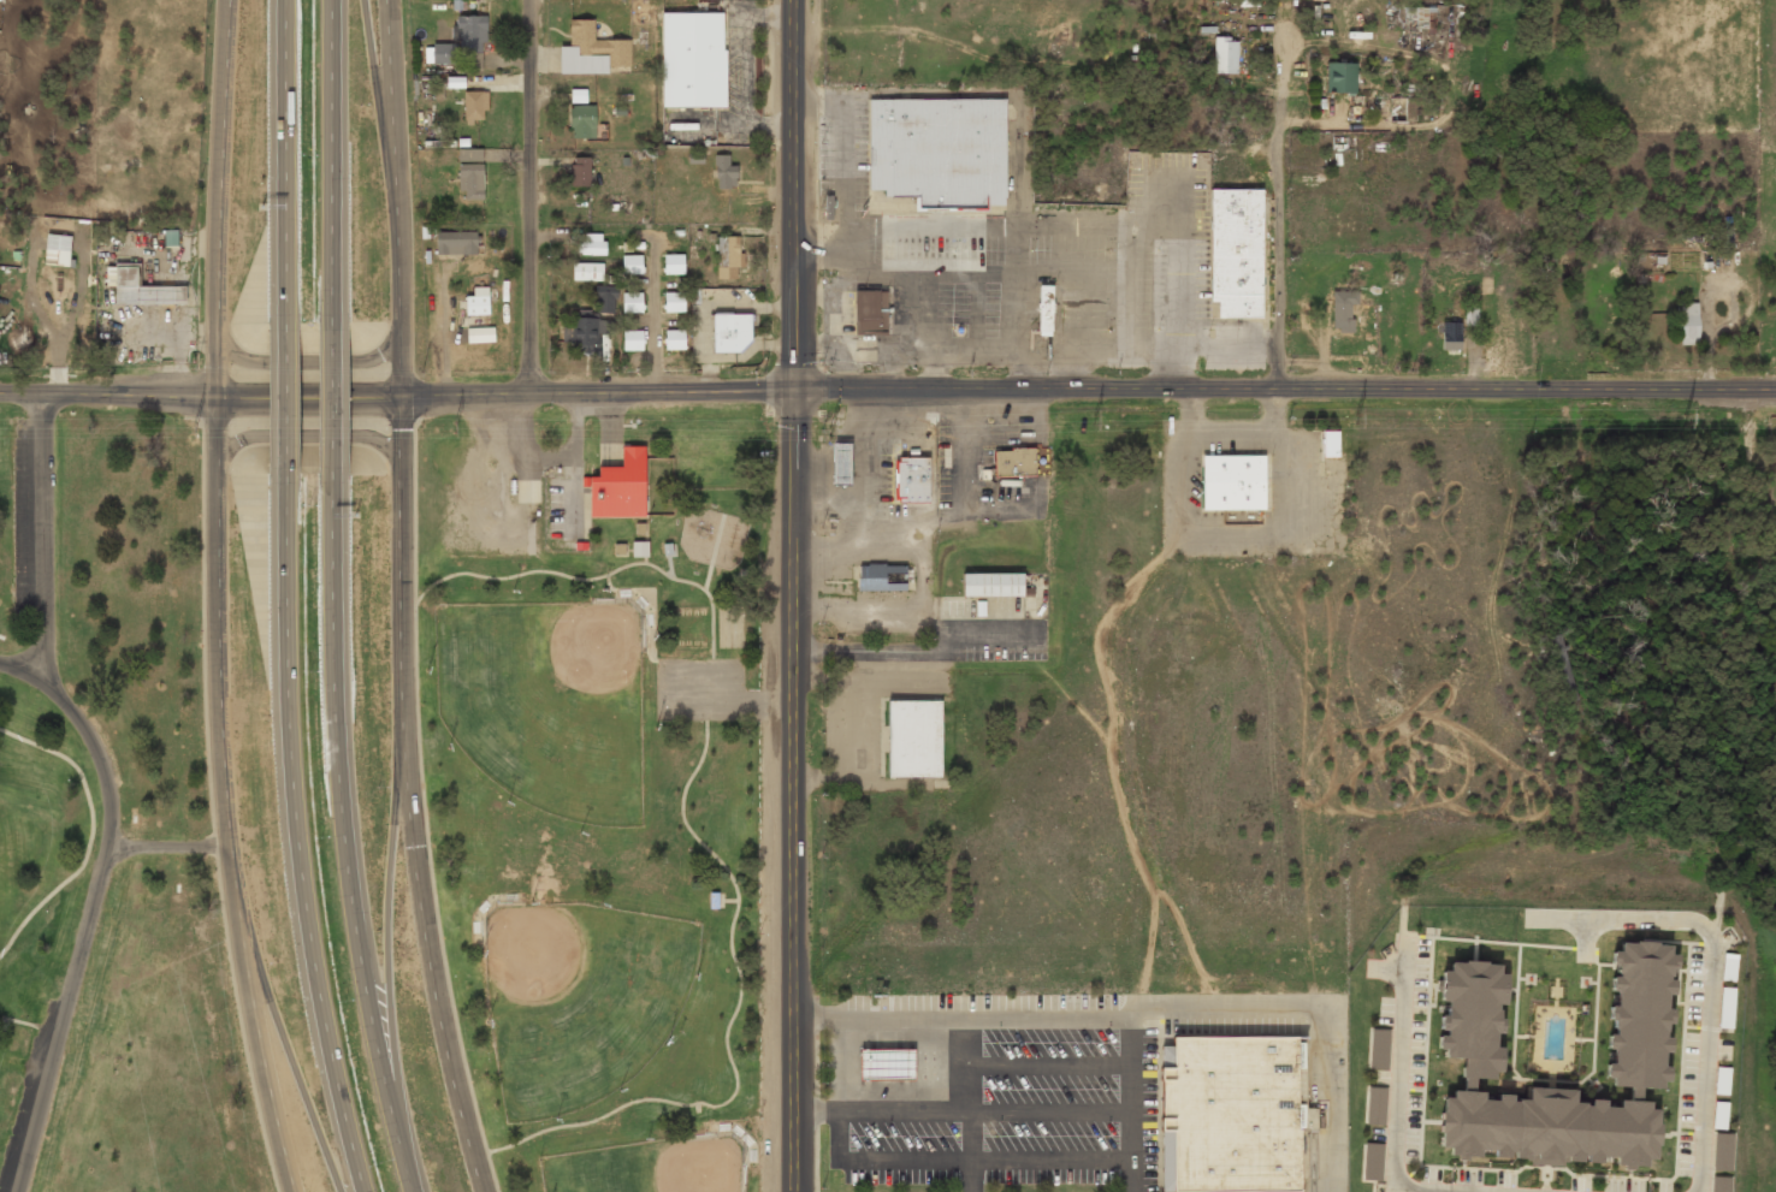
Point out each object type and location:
building: (0, 0)
building: (1425, 20)
building: (464, 43)
building: (592, 52)
building: (1225, 55)
building: (692, 60)
building: (1339, 79)
building: (578, 95)
building: (474, 107)
road: (379, 109)
building: (581, 123)
building: (939, 152)
road: (335, 160)
road: (286, 164)
building: (579, 172)
building: (724, 172)
building: (470, 176)
road: (528, 197)
building: (827, 206)
road: (1293, 233)
building: (170, 237)
building: (456, 244)
building: (593, 245)
building: (58, 251)
building: (1236, 251)
building: (728, 259)
building: (632, 265)
building: (673, 265)
building: (588, 272)
building: (142, 291)
building: (478, 302)
building: (632, 303)
building: (674, 303)
building: (1044, 310)
building: (1343, 310)
building: (870, 312)
building: (1687, 322)
building: (592, 325)
building: (730, 331)
building: (1451, 336)
building: (674, 340)
building: (633, 342)
road: (307, 362)
traffic signals: (792, 390)
road: (1087, 390)
road: (108, 393)
road: (307, 396)
road: (336, 397)
road: (288, 402)
power tower: (1686, 417)
power tower: (1094, 419)
power tower: (1356, 419)
power tower: (455, 427)
power tower: (191, 428)
power tower: (830, 432)
road: (304, 433)
building: (1331, 445)
road: (215, 457)
building: (1014, 462)
building: (840, 463)
gas station: (840, 463)
building: (912, 479)
building: (1233, 484)
building: (620, 486)
parking lot: (31, 521)
road: (42, 535)
building: (639, 550)
road: (712, 552)
building: (880, 576)
road: (592, 579)
building: (991, 585)
road: (791, 595)
road: (398, 599)
road: (17, 670)
building: (1565, 678)
parking lot: (703, 689)
park: (546, 702)
building: (913, 737)
road: (424, 811)
park: (108, 828)
road: (90, 834)
road: (297, 836)
road: (347, 836)
park: (610, 846)
road: (167, 847)
road: (85, 925)
road: (392, 962)
building: (1728, 967)
park: (579, 998)
building: (1727, 1009)
road: (727, 1025)
building: (1378, 1049)
road: (288, 1052)
road: (256, 1054)
building: (886, 1063)
gas station: (886, 1063)
building: (1636, 1067)
building: (1722, 1081)
building: (1375, 1105)
building: (1232, 1113)
building: (1719, 1116)
building: (1723, 1154)
building: (1372, 1161)
park: (646, 1167)
building: (1721, 1185)

